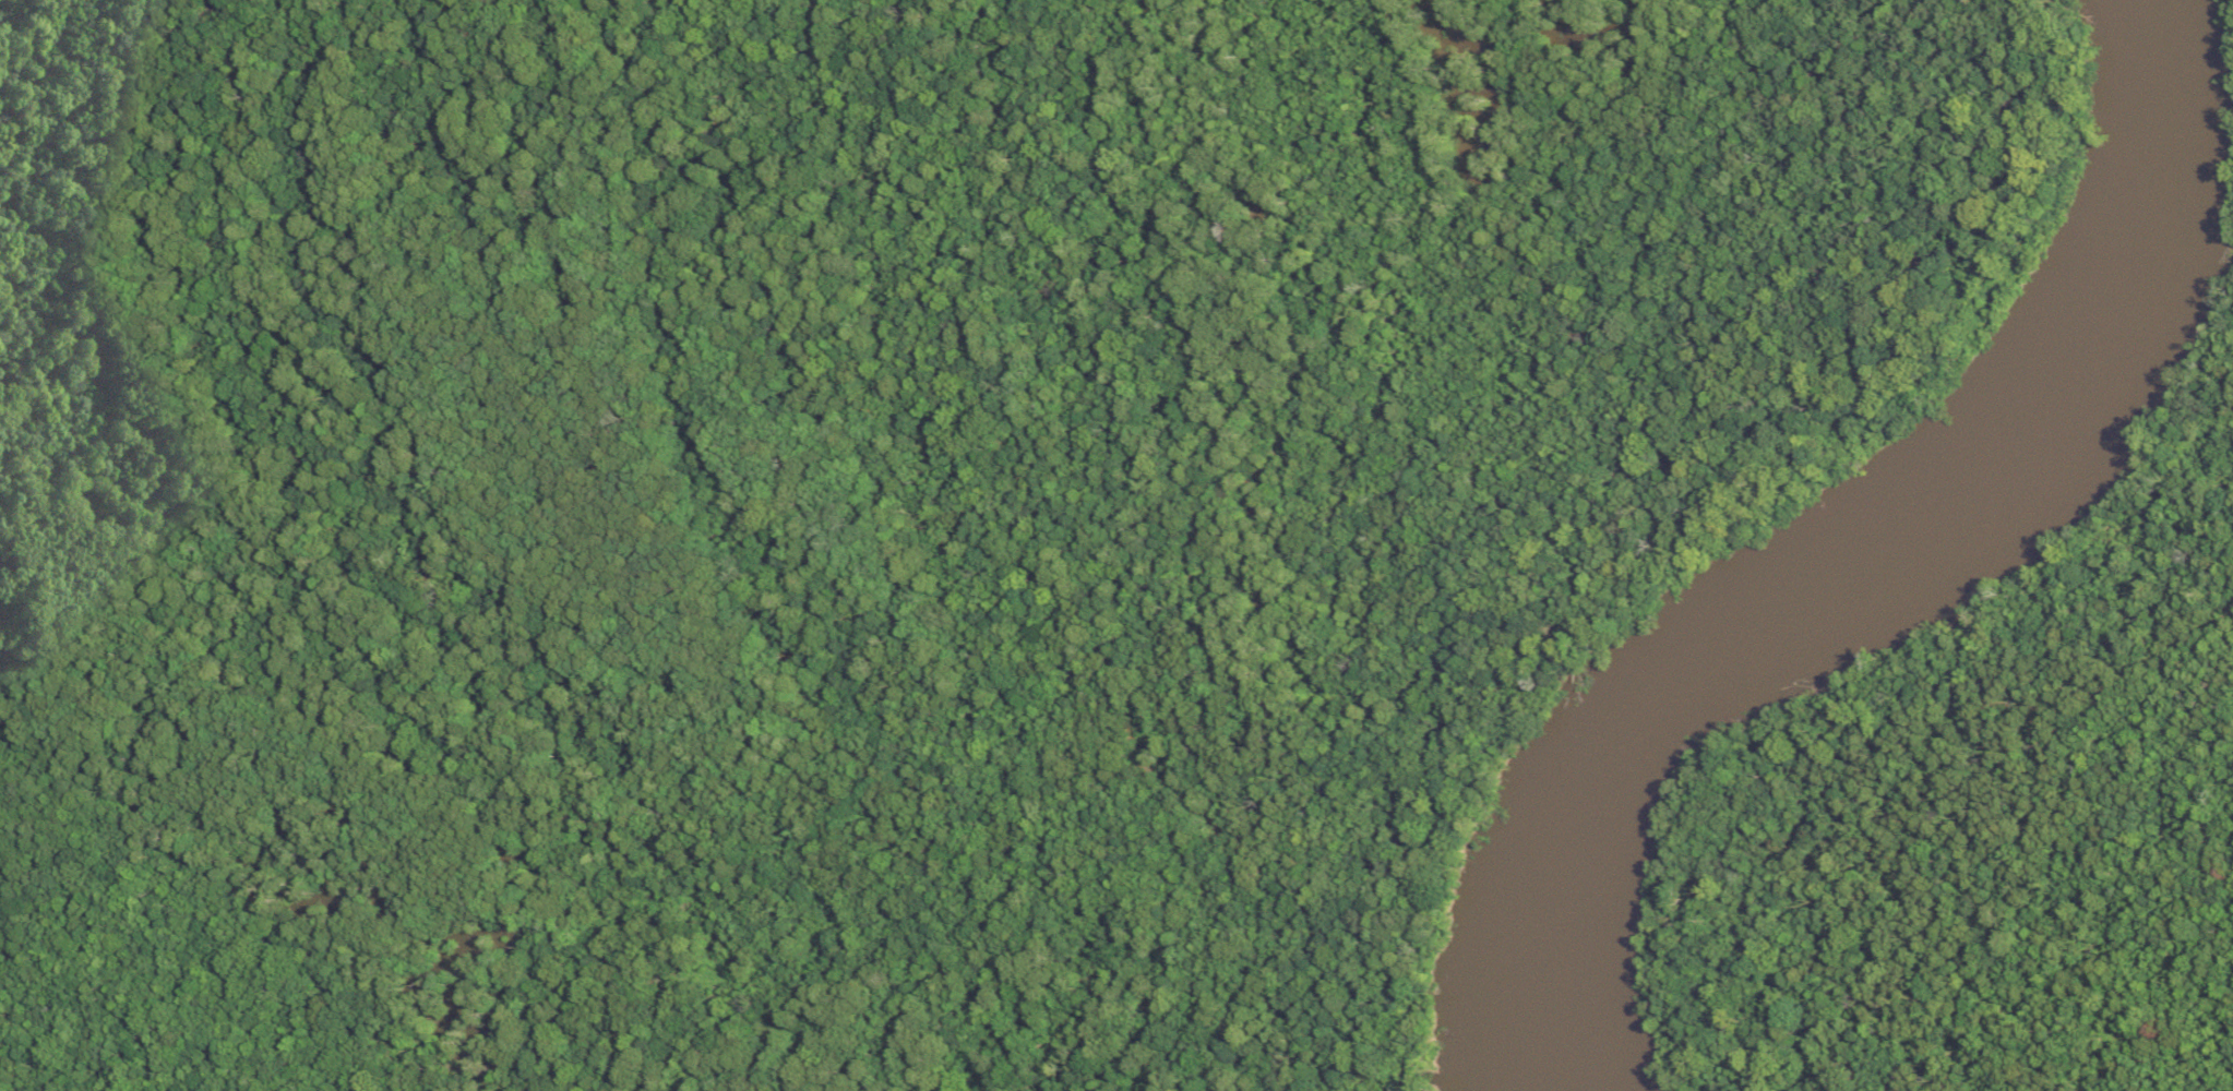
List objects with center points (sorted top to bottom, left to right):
river: (1852, 547)

